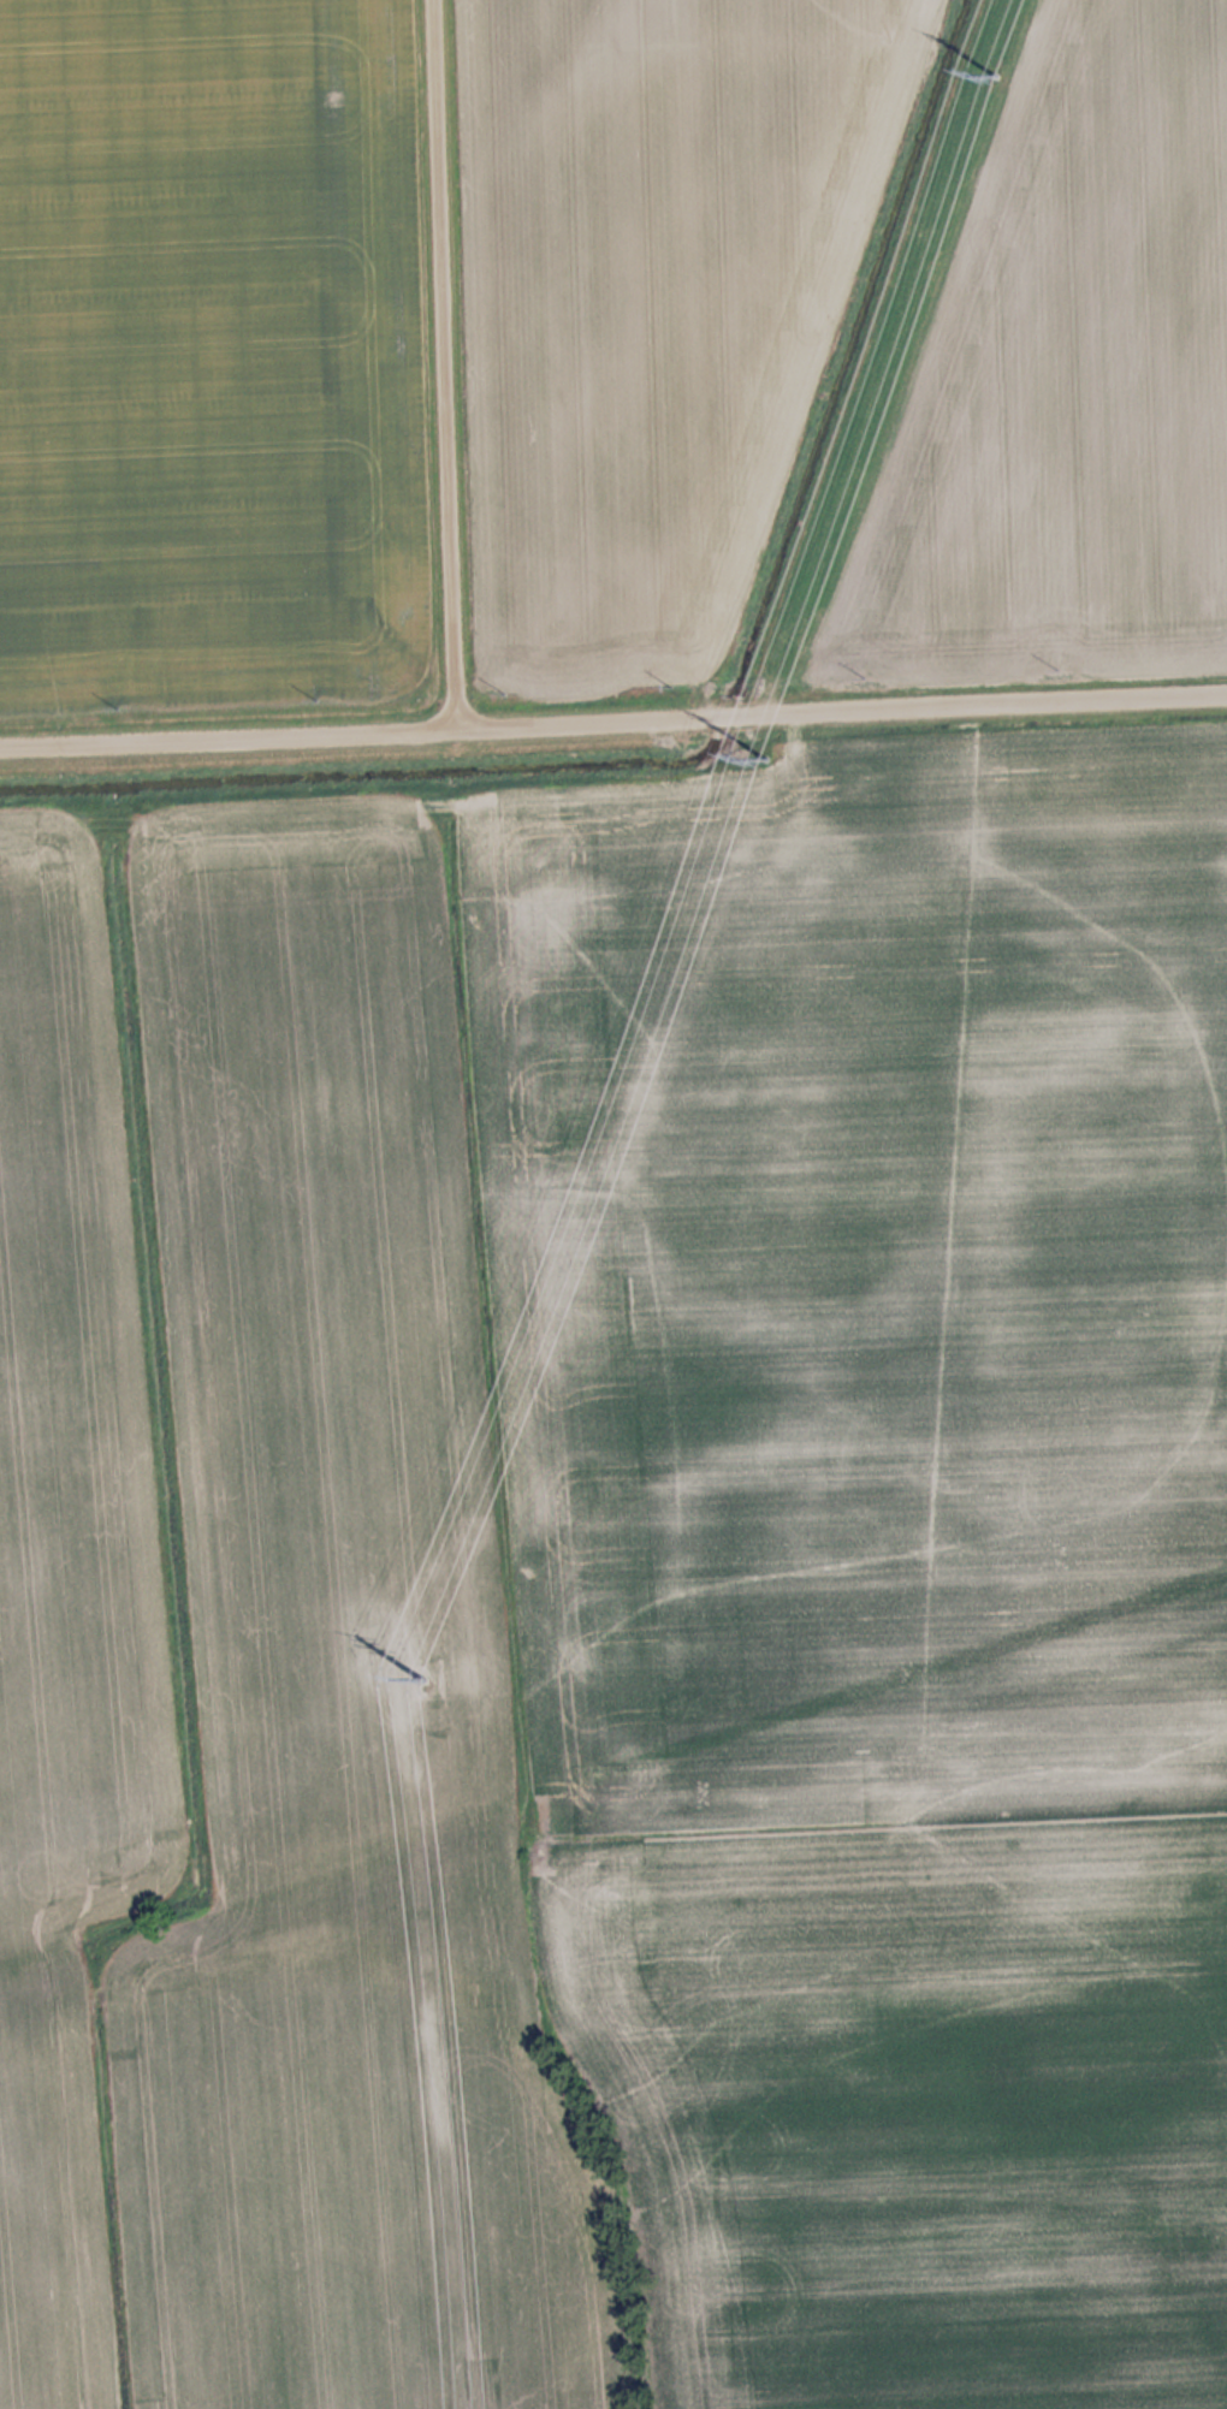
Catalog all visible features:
power tower: (1000, 67)
road: (441, 367)
road: (613, 729)
power tower: (761, 755)
power tower: (417, 1672)

